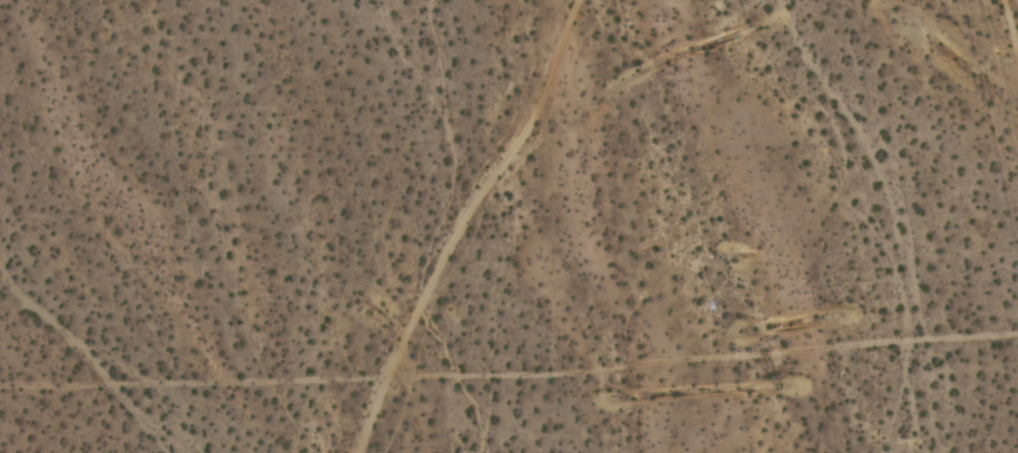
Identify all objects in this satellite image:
road: (1017, 4)

